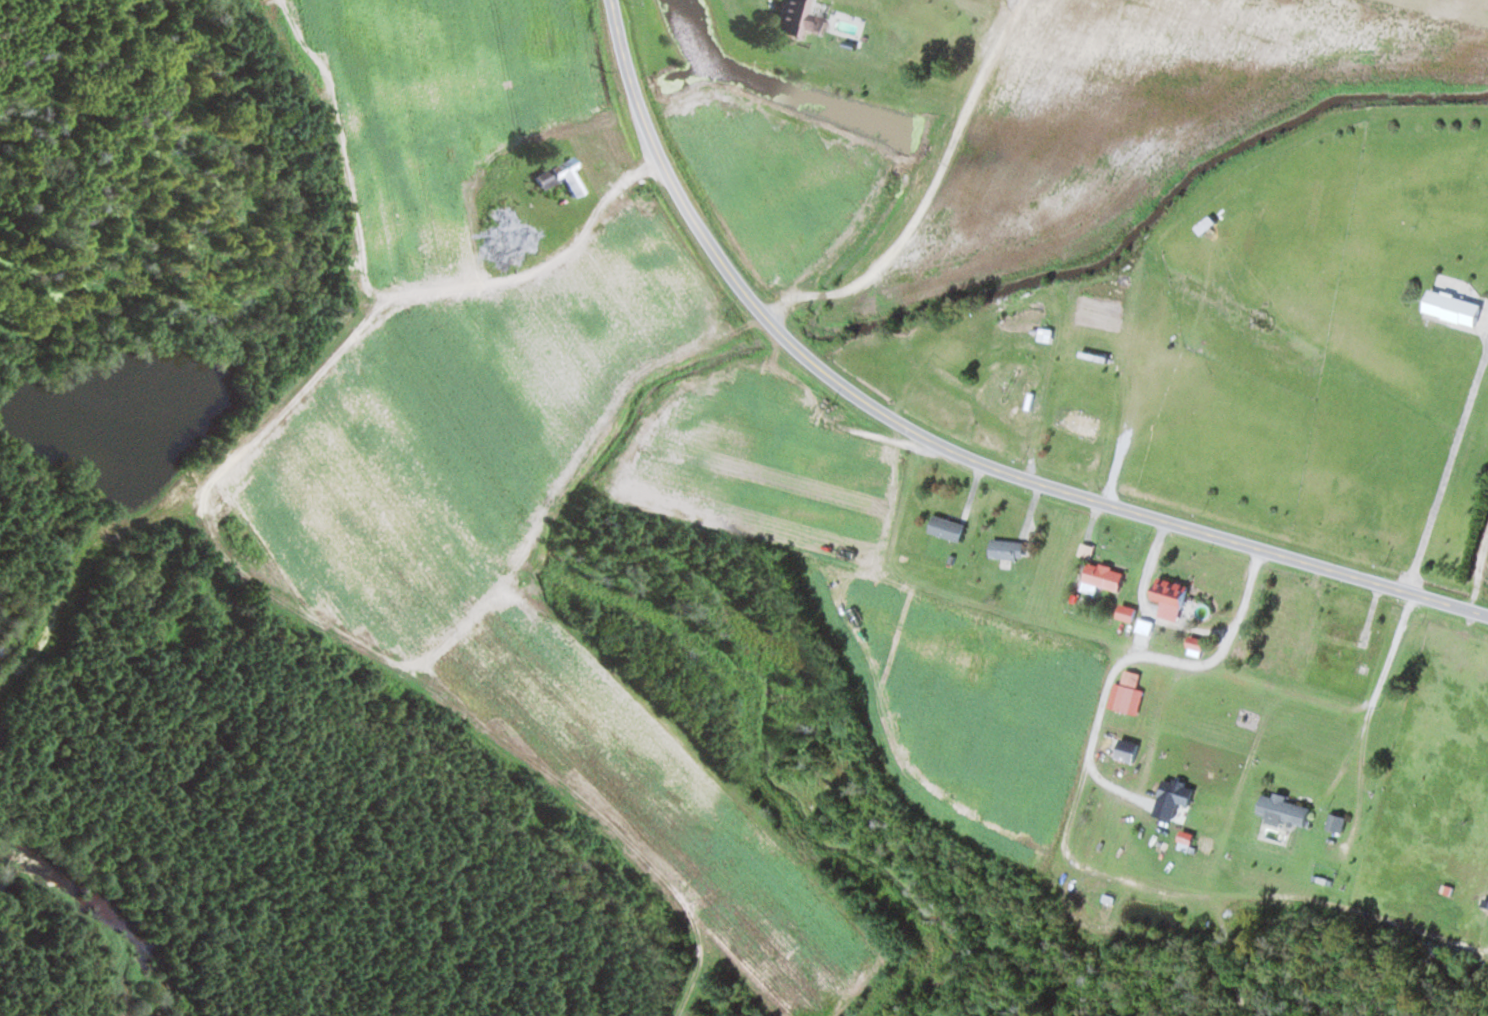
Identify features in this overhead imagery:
building: (797, 18)
building: (564, 177)
building: (1458, 308)
building: (1109, 315)
building: (1084, 421)
building: (1028, 423)
road: (940, 445)
building: (952, 528)
building: (1011, 549)
building: (1106, 578)
building: (1175, 588)
building: (1289, 621)
building: (1355, 636)
building: (1129, 699)
building: (1107, 744)
building: (1137, 750)
building: (1287, 809)
building: (1339, 823)

